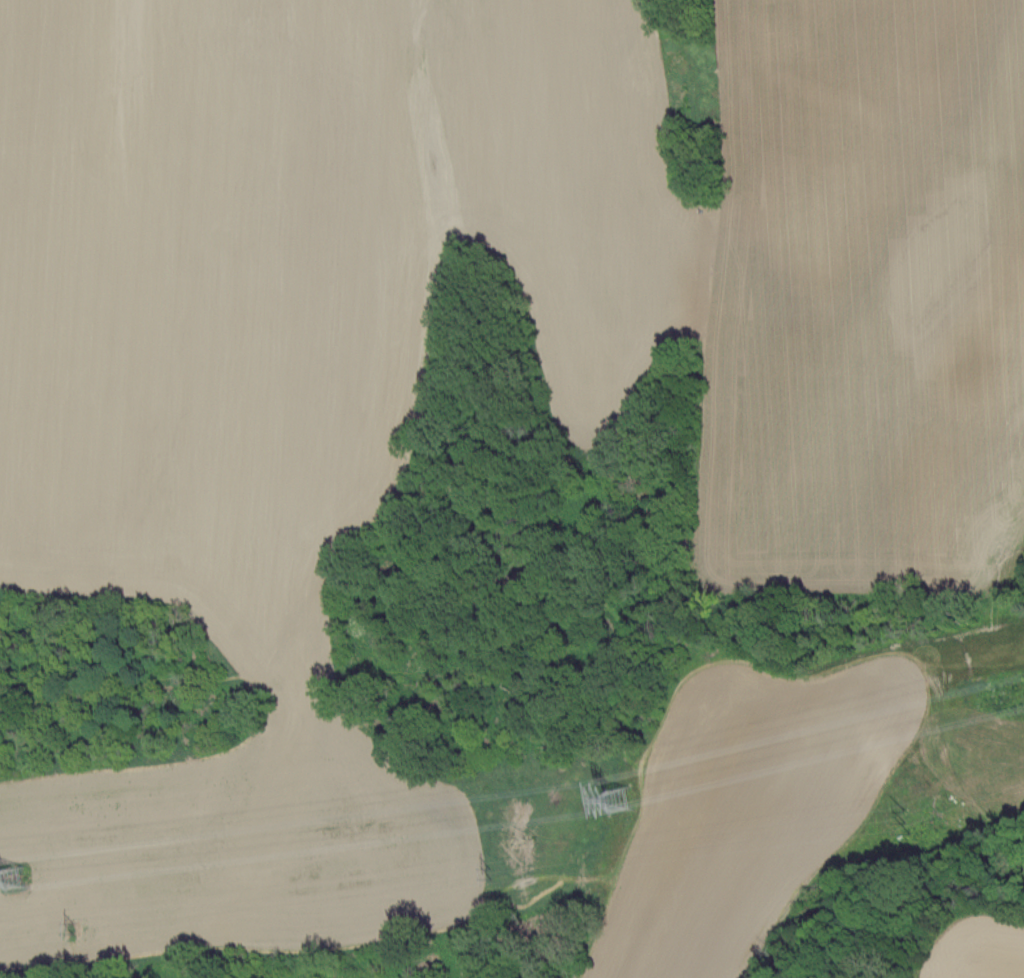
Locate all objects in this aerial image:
power tower: (614, 800)
power tower: (14, 879)

